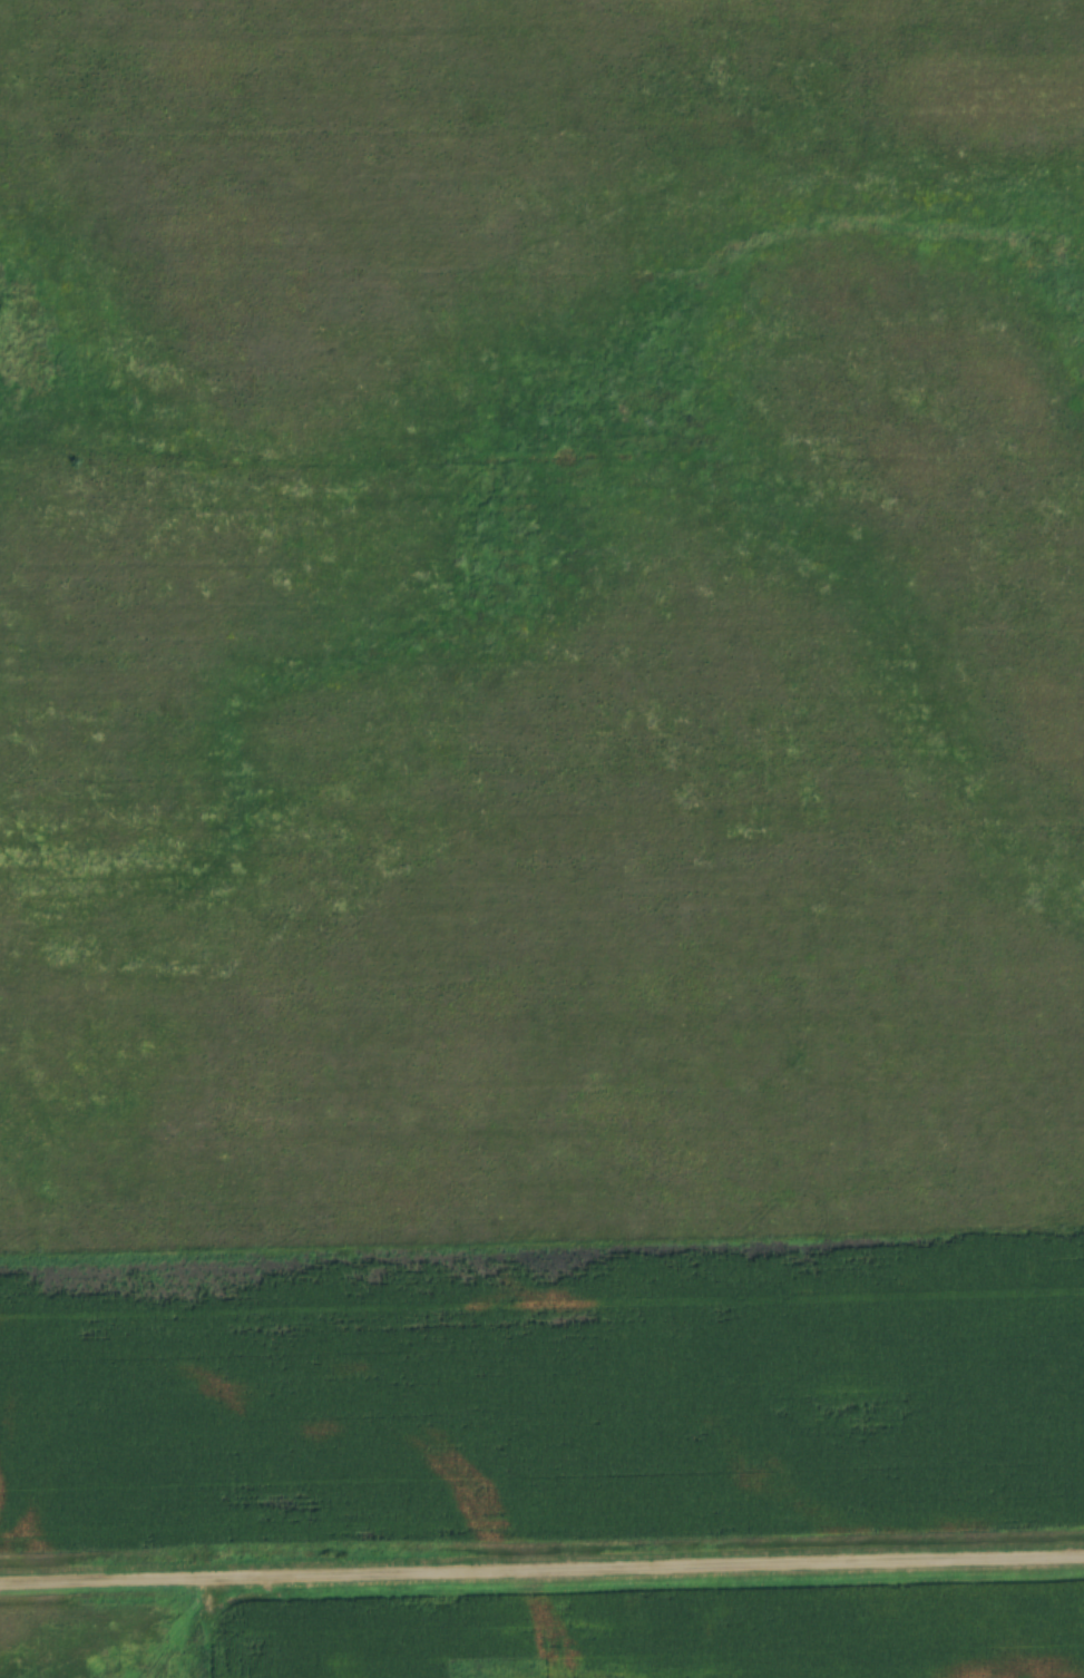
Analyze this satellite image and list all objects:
road: (541, 1568)

